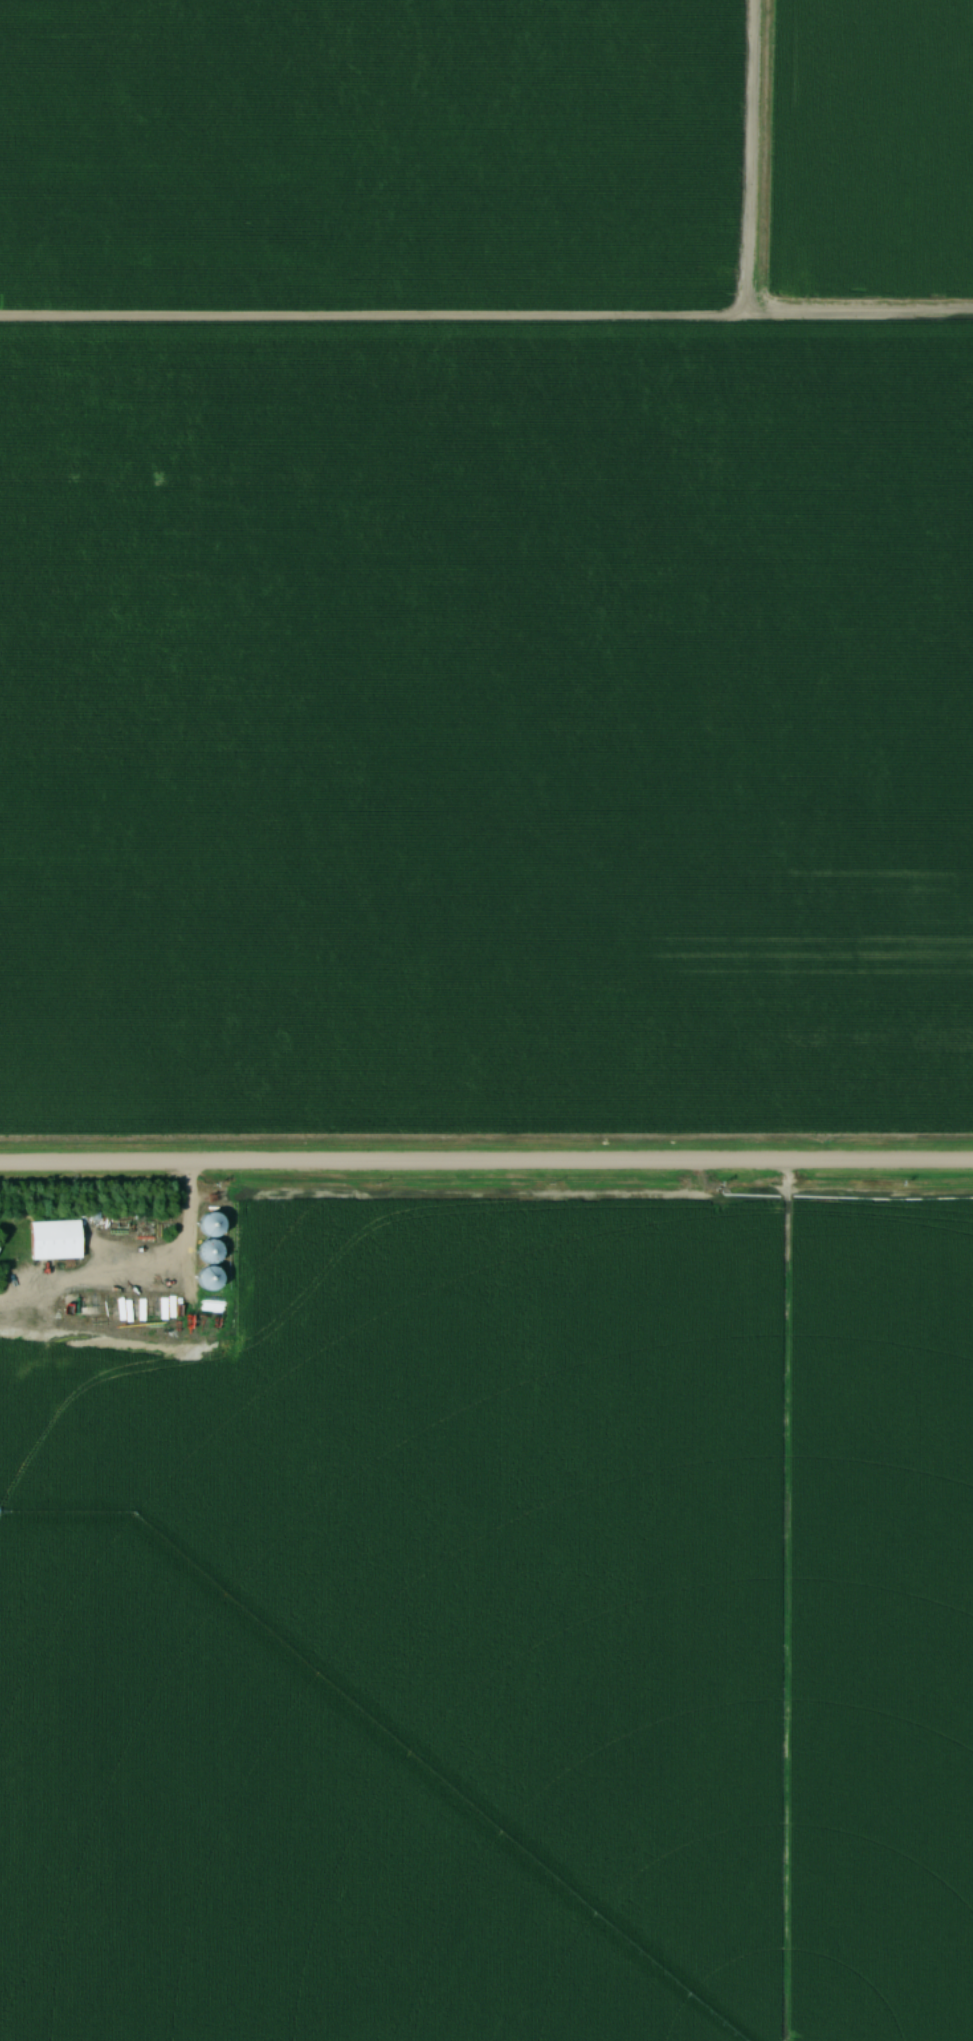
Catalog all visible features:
road: (486, 1165)
building: (59, 1241)
building: (0, 1251)
road: (189, 1258)
road: (94, 1278)

